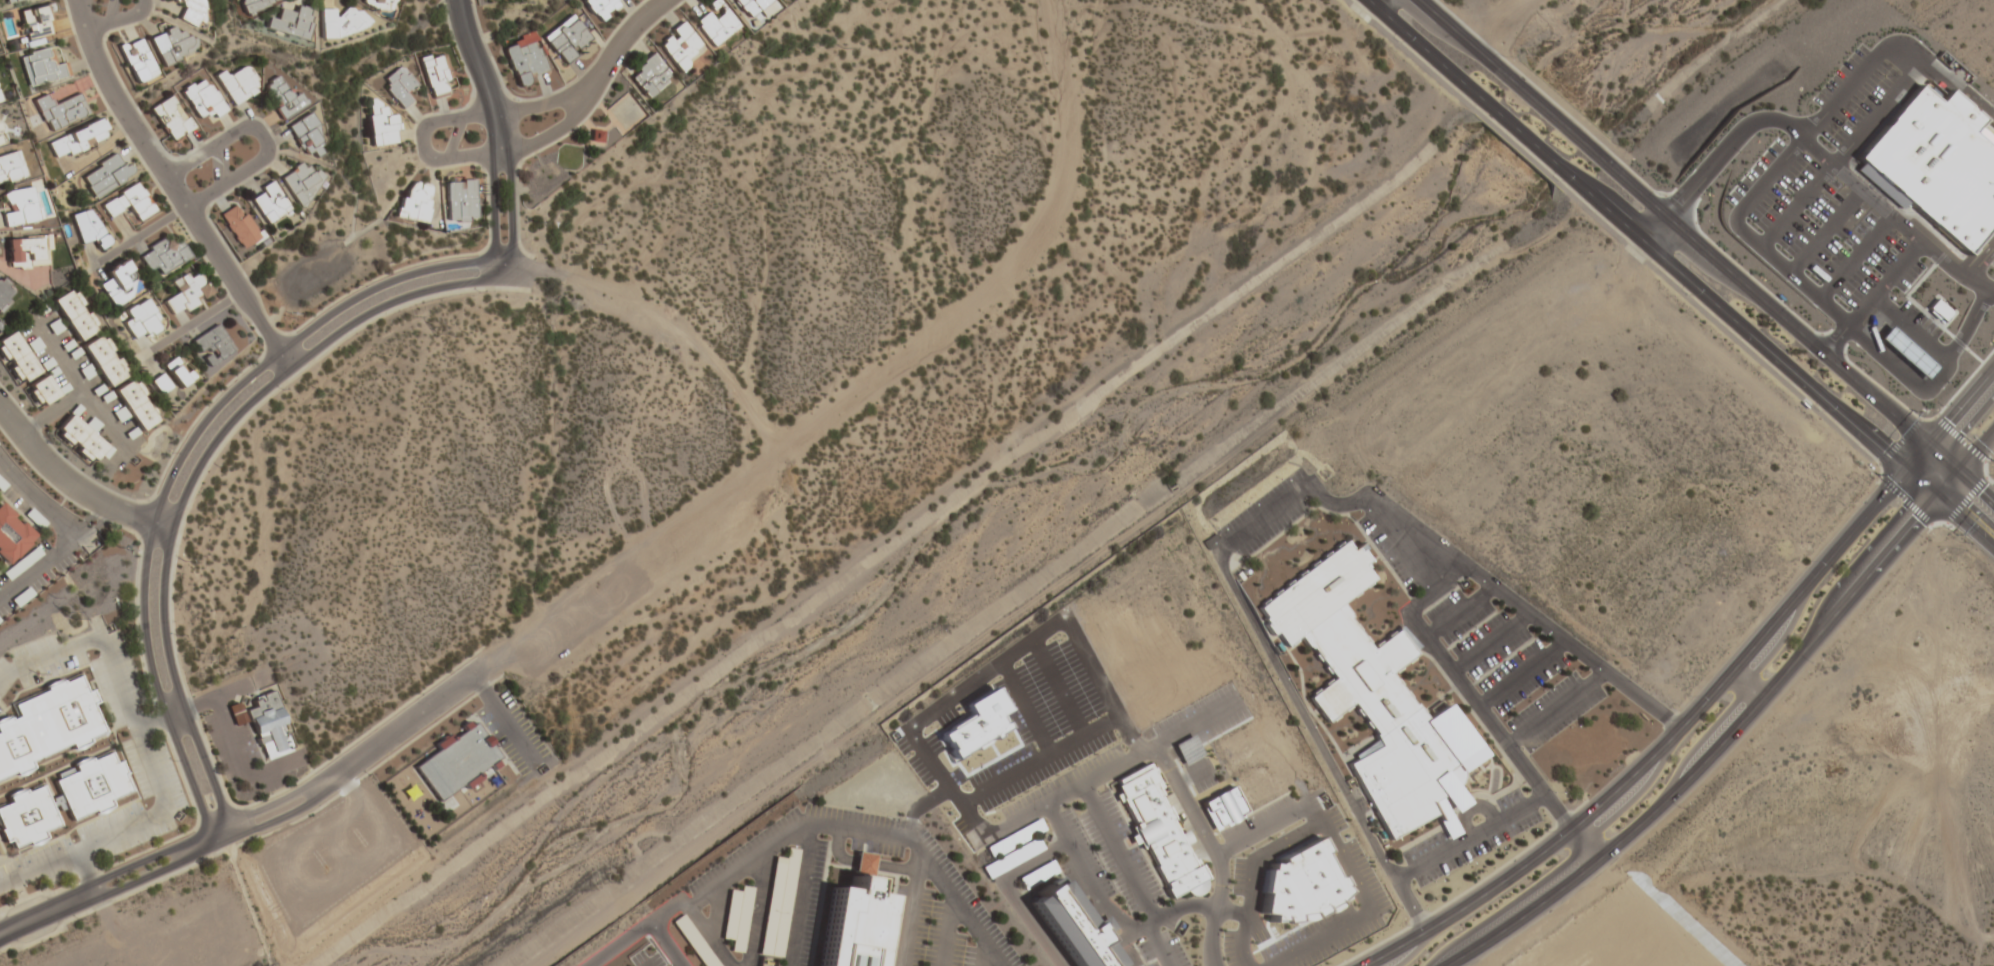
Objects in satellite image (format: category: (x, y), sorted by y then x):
building: (14, 1)
building: (256, 4)
building: (379, 5)
street lamp: (474, 5)
building: (751, 6)
street lamp: (92, 8)
building: (600, 8)
building: (191, 11)
road: (118, 19)
road: (1492, 19)
building: (36, 22)
building: (341, 22)
building: (289, 23)
building: (716, 27)
building: (566, 39)
road: (1464, 40)
street lamp: (1397, 42)
building: (171, 45)
building: (679, 46)
road: (1431, 56)
street lamp: (1503, 57)
building: (524, 59)
building: (136, 61)
building: (42, 68)
street lamp: (619, 71)
road: (481, 75)
building: (435, 76)
building: (648, 76)
building: (237, 85)
building: (398, 87)
parking lot: (1851, 94)
building: (282, 98)
building: (202, 99)
building: (0, 101)
power tower: (715, 107)
road: (1980, 108)
building: (60, 111)
road: (1548, 112)
road: (572, 113)
road: (478, 115)
building: (171, 120)
building: (380, 126)
street lamp: (484, 135)
building: (306, 137)
road: (262, 138)
building: (1, 139)
building: (78, 140)
road: (1532, 144)
road: (1812, 147)
road: (1840, 155)
road: (1780, 163)
building: (1937, 164)
building: (11, 167)
building: (106, 175)
building: (301, 182)
street lamp: (1556, 182)
street lamp: (187, 187)
road: (174, 189)
street lamp: (1660, 194)
building: (460, 201)
building: (129, 203)
building: (269, 204)
building: (415, 204)
road: (510, 206)
building: (20, 208)
parking lot: (1820, 225)
building: (239, 228)
building: (89, 229)
road: (1825, 231)
road: (135, 239)
building: (28, 252)
building: (163, 256)
road: (1856, 257)
road: (1979, 259)
road: (502, 271)
road: (1884, 282)
building: (118, 283)
street lamp: (357, 285)
building: (4, 293)
street lamp: (478, 293)
building: (187, 294)
street lamp: (1687, 296)
road: (1771, 308)
building: (1939, 310)
street lamp: (1793, 311)
building: (75, 315)
road: (1927, 316)
building: (142, 321)
road: (189, 324)
road: (1737, 324)
road: (1969, 325)
power tower: (441, 329)
road: (1836, 338)
building: (213, 351)
building: (1906, 353)
gas station: (1906, 353)
building: (16, 359)
building: (105, 361)
building: (178, 372)
road: (1937, 378)
building: (159, 384)
road: (75, 387)
street lamp: (281, 390)
building: (41, 392)
building: (136, 405)
street lamp: (1943, 406)
road: (1963, 409)
street lamp: (1819, 412)
road: (100, 418)
building: (82, 438)
road: (1978, 449)
street lamp: (171, 453)
road: (1920, 459)
road: (176, 465)
road: (192, 476)
road: (1978, 482)
road: (73, 486)
road: (1951, 508)
road: (106, 511)
road: (101, 516)
road: (74, 534)
building: (11, 535)
street lamp: (1922, 538)
street lamp: (1807, 562)
building: (21, 564)
road: (1425, 605)
road: (1459, 613)
power tower: (74, 614)
street lamp: (175, 636)
street lamp: (125, 641)
road: (1490, 645)
street lamp: (1812, 664)
street lamp: (137, 674)
road: (1521, 676)
road: (477, 678)
street lamp: (62, 679)
street lamp: (1690, 697)
building: (1373, 698)
street lamp: (147, 703)
street lamp: (9, 710)
road: (1556, 711)
road: (159, 717)
road: (510, 723)
building: (47, 724)
building: (267, 725)
parking lot: (517, 733)
road: (1725, 739)
road: (1662, 748)
road: (147, 757)
street lamp: (171, 761)
building: (462, 762)
road: (1101, 771)
building: (91, 785)
street lamp: (1338, 792)
building: (1223, 808)
street lamp: (1680, 808)
building: (26, 816)
road: (245, 817)
road: (250, 832)
street lamp: (1527, 832)
street lamp: (1544, 833)
building: (1160, 837)
street lamp: (1495, 849)
road: (1444, 852)
road: (924, 860)
street lamp: (1373, 862)
road: (860, 863)
road: (1023, 865)
street lamp: (1466, 865)
road: (84, 877)
street lamp: (1435, 883)
parking lot: (750, 884)
road: (716, 885)
road: (797, 894)
building: (777, 902)
street lamp: (1402, 909)
road: (714, 910)
road: (754, 910)
road: (908, 911)
road: (1106, 912)
building: (735, 916)
building: (852, 920)
road: (1153, 924)
street lamp: (1405, 926)
building: (1074, 929)
road: (640, 931)
road: (946, 931)
road: (1210, 937)
building: (693, 940)
road: (666, 945)
building: (1638, 950)
street lamp: (1, 954)
road: (982, 954)

